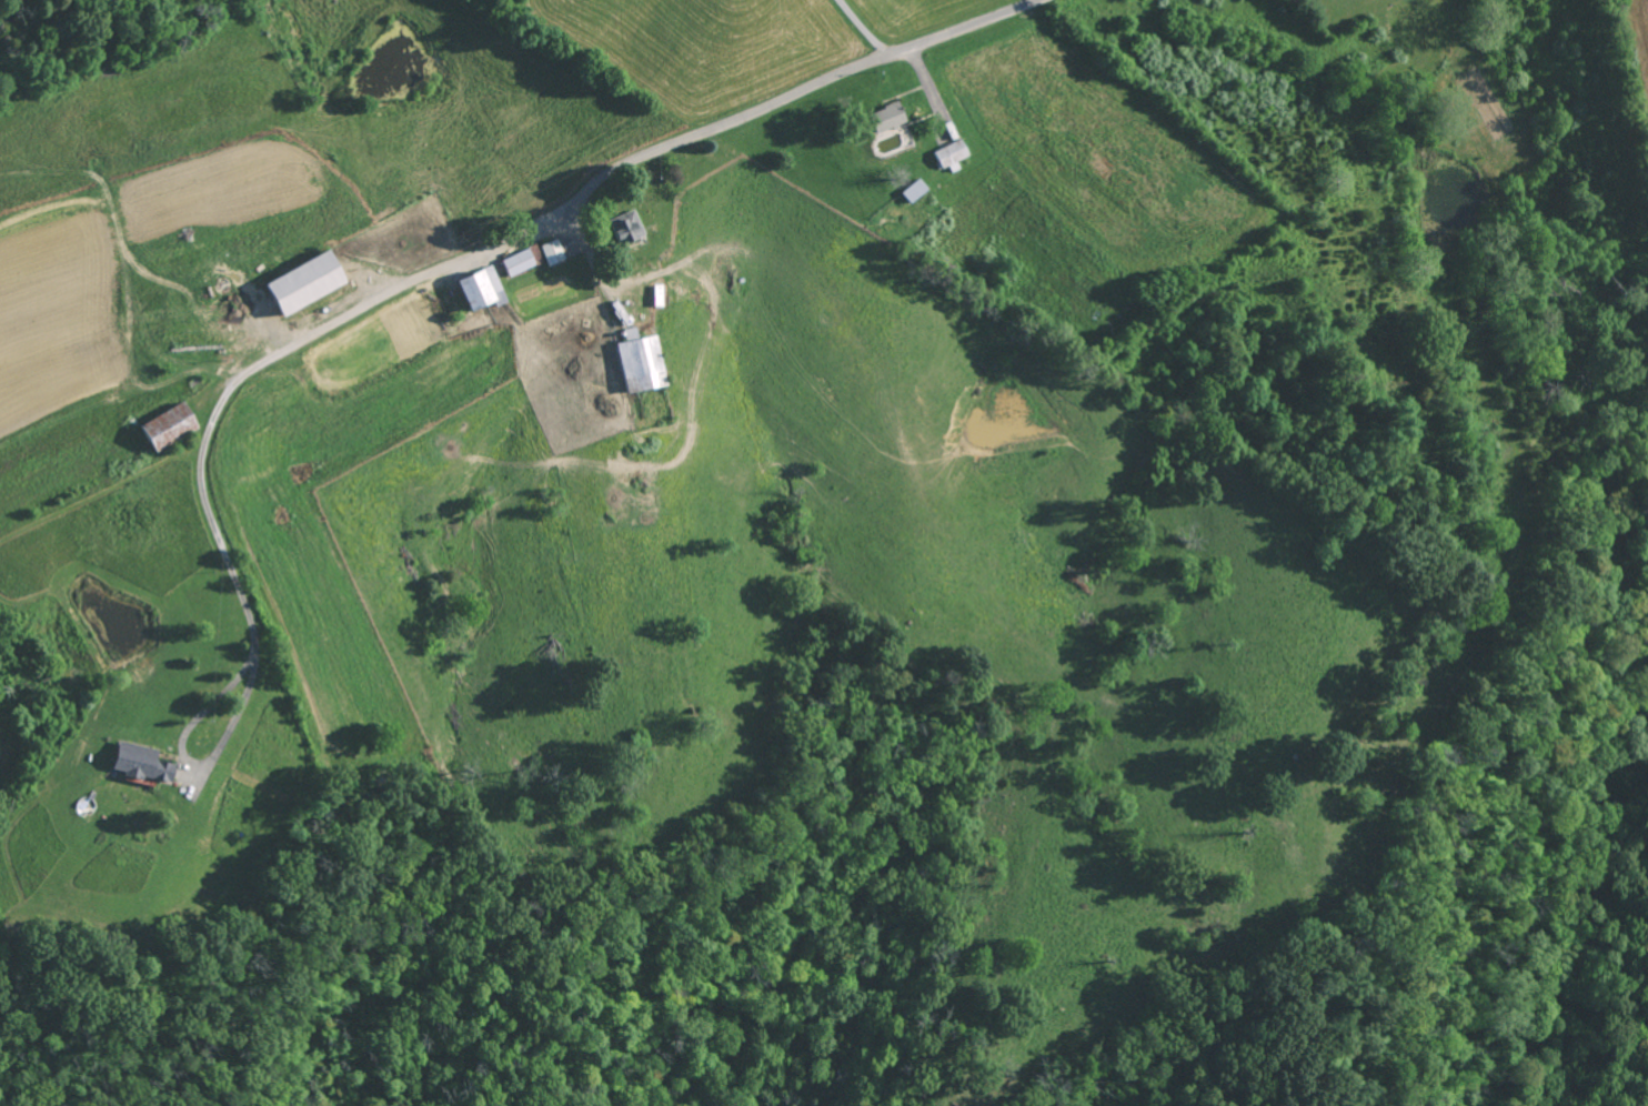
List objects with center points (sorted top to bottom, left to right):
road: (788, 99)
building: (885, 118)
building: (949, 155)
building: (912, 190)
building: (624, 227)
building: (550, 252)
building: (532, 253)
building: (515, 262)
building: (302, 282)
building: (479, 289)
building: (639, 361)
building: (165, 426)
building: (140, 763)

